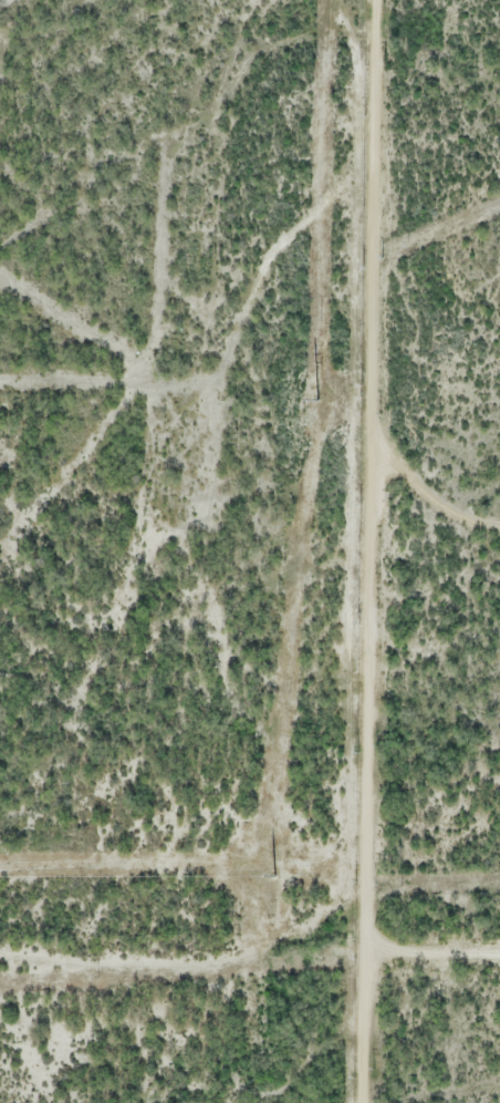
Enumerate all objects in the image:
power tower: (321, 401)
road: (363, 551)
power tower: (275, 876)

